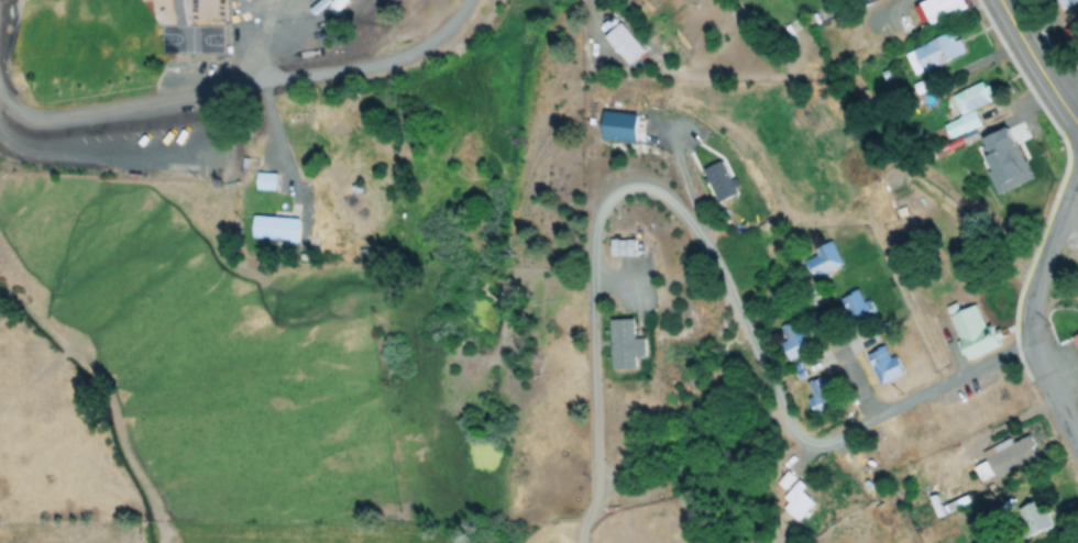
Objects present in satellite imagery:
building: (1063, 3)
building: (337, 5)
building: (942, 13)
parking lot: (278, 26)
building: (1077, 42)
building: (621, 46)
building: (934, 55)
road: (1039, 62)
road: (266, 73)
road: (239, 90)
road: (1068, 90)
building: (968, 108)
building: (616, 128)
building: (998, 159)
building: (262, 184)
building: (714, 184)
building: (271, 231)
road: (706, 242)
building: (617, 252)
building: (820, 261)
road: (1030, 304)
building: (855, 311)
building: (976, 329)
building: (792, 342)
building: (1072, 346)
building: (619, 348)
road: (850, 361)
building: (882, 367)
building: (816, 397)
building: (1001, 463)
building: (793, 502)
building: (1030, 521)
crop: (307, 533)
crop: (553, 535)

